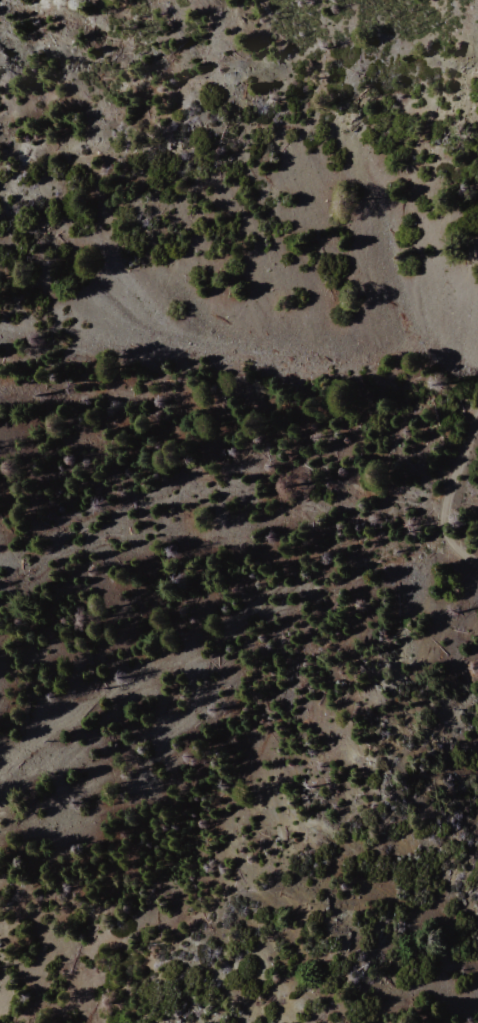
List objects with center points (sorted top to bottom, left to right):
road: (445, 502)

